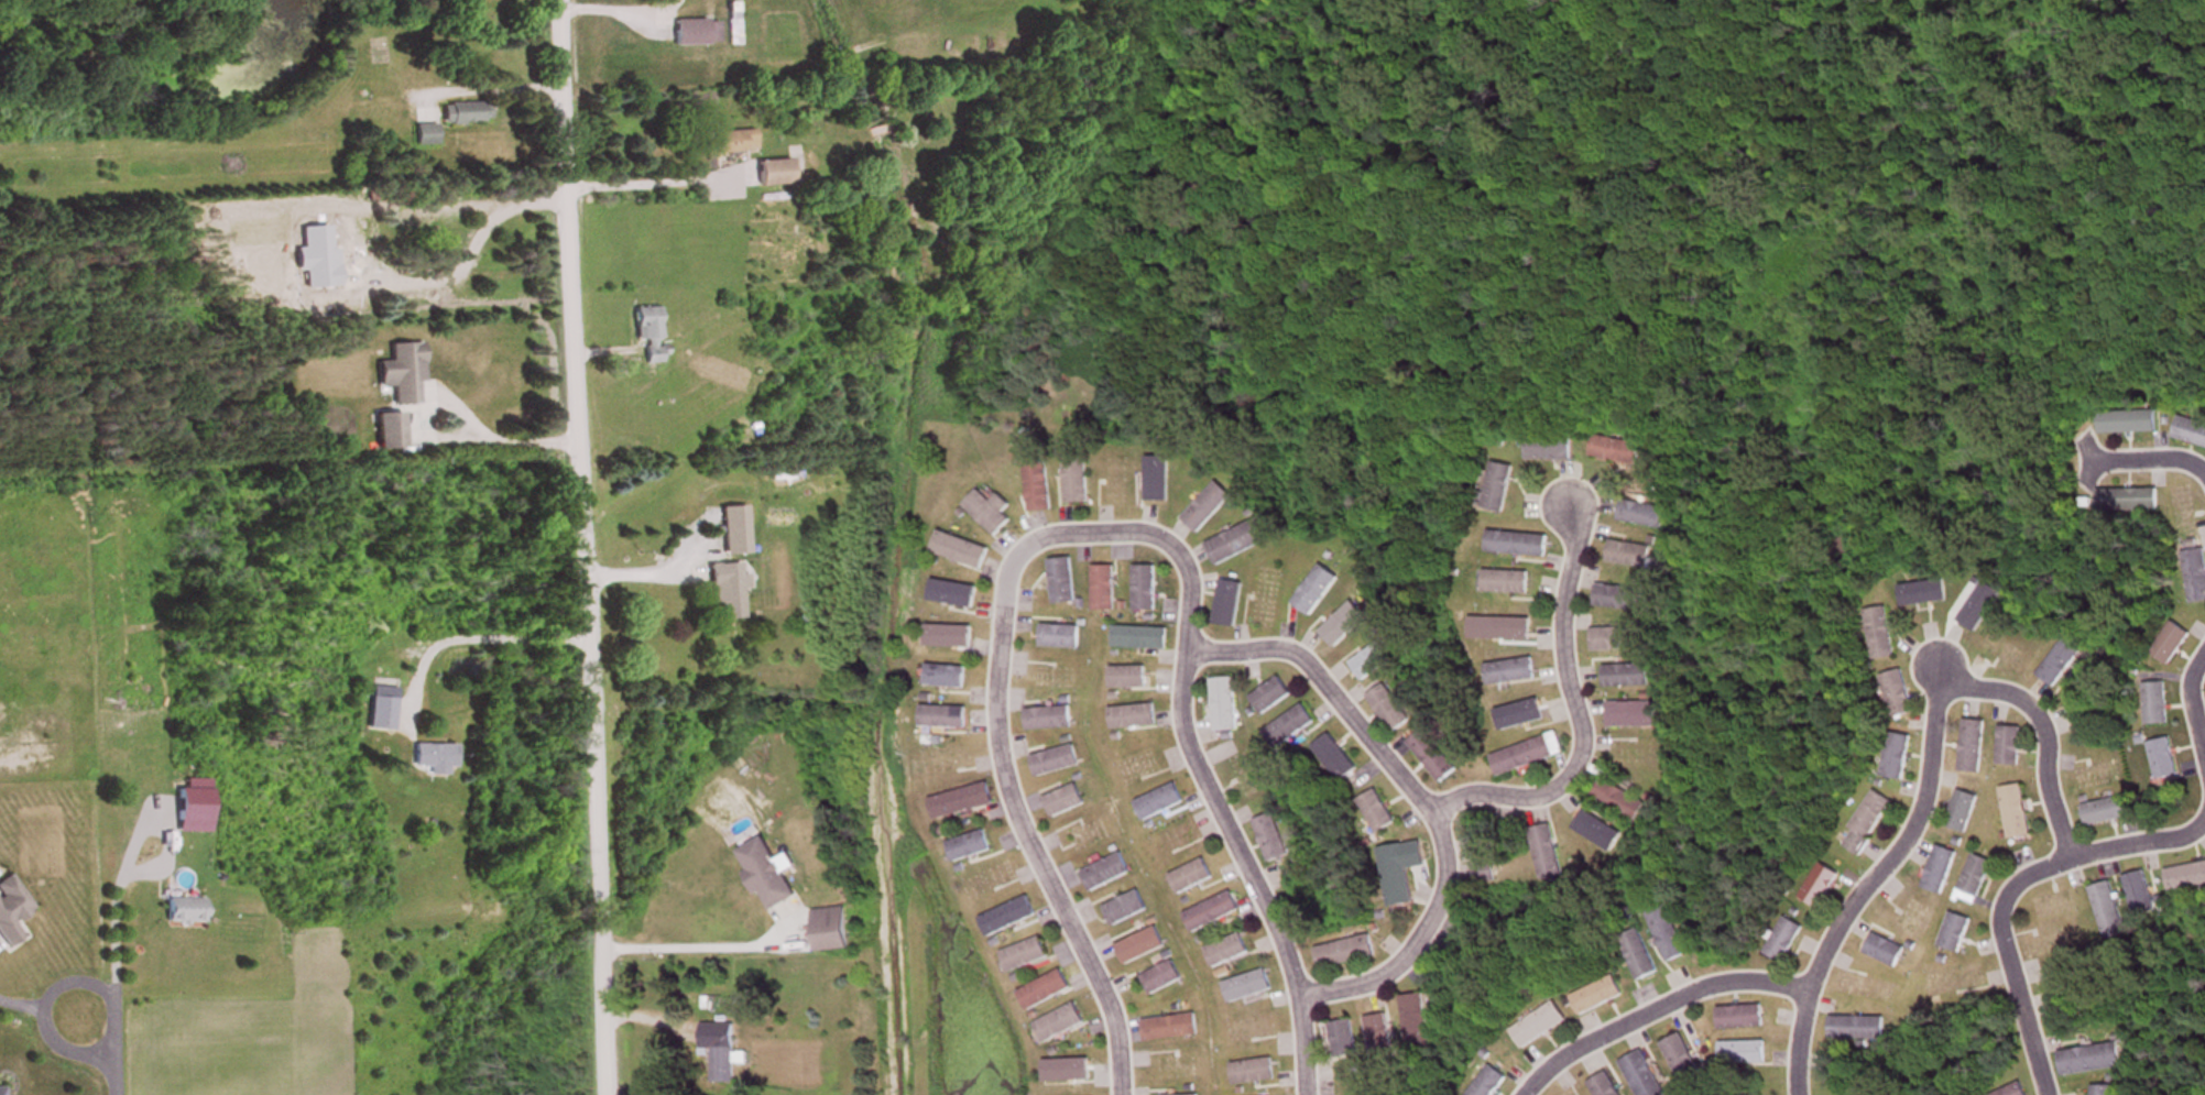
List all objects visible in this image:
building: (698, 32)
building: (466, 113)
building: (733, 142)
building: (774, 174)
building: (650, 335)
building: (403, 375)
building: (2129, 423)
building: (391, 432)
building: (2191, 432)
road: (494, 434)
building: (1549, 450)
building: (1616, 451)
road: (2084, 459)
road: (2149, 459)
building: (1077, 483)
building: (1039, 489)
building: (1498, 489)
building: (2129, 502)
building: (1208, 508)
building: (990, 513)
building: (1642, 516)
road: (1094, 532)
building: (1240, 544)
building: (1518, 546)
road: (577, 547)
building: (962, 551)
building: (1630, 556)
building: (2196, 576)
building: (1063, 582)
building: (1507, 583)
building: (1146, 589)
building: (1105, 590)
building: (729, 591)
building: (1317, 591)
building: (1620, 599)
road: (480, 632)
building: (1880, 635)
building: (1061, 637)
building: (1142, 638)
building: (1618, 639)
building: (2171, 645)
building: (1372, 663)
building: (2059, 665)
building: (1511, 672)
building: (948, 677)
building: (1627, 677)
building: (1129, 678)
building: (1898, 694)
building: (1273, 697)
road: (1569, 700)
building: (2157, 704)
building: (1225, 705)
building: (383, 708)
building: (1390, 709)
road: (2187, 711)
building: (1634, 715)
building: (945, 718)
building: (1134, 718)
building: (1049, 719)
building: (1291, 729)
road: (1928, 731)
building: (1973, 747)
building: (2009, 747)
building: (1528, 756)
building: (1434, 757)
building: (1897, 757)
building: (436, 759)
building: (1336, 759)
building: (2164, 760)
building: (1056, 763)
road: (1411, 796)
building: (1620, 801)
building: (963, 802)
building: (1065, 802)
building: (1160, 803)
building: (194, 811)
building: (2107, 812)
building: (1377, 813)
building: (1963, 813)
building: (2017, 813)
building: (1867, 824)
building: (1273, 839)
road: (2141, 841)
building: (970, 848)
building: (1548, 853)
building: (1940, 872)
building: (1485, 873)
building: (1105, 874)
building: (767, 875)
building: (1397, 877)
building: (1192, 878)
building: (2186, 878)
building: (1975, 880)
building: (2140, 895)
building: (185, 908)
building: (1126, 910)
building: (12, 911)
building: (1213, 913)
building: (2109, 913)
building: (1009, 918)
building: (831, 930)
building: (1668, 934)
building: (1956, 934)
road: (112, 939)
road: (698, 940)
building: (1784, 941)
building: (1142, 948)
building: (1229, 951)
building: (1886, 952)
building: (1346, 953)
building: (1026, 956)
building: (1639, 956)
road: (2004, 960)
building: (1162, 979)
building: (1248, 987)
building: (1046, 992)
building: (1597, 997)
road: (1648, 1008)
building: (1742, 1018)
building: (1417, 1021)
building: (1061, 1025)
building: (1540, 1027)
building: (1171, 1029)
building: (1857, 1029)
building: (1380, 1038)
building: (1344, 1040)
road: (1791, 1042)
road: (109, 1048)
building: (722, 1052)
building: (1743, 1054)
building: (2091, 1061)
building: (1683, 1062)
building: (1254, 1073)
building: (1642, 1075)
building: (1489, 1083)
building: (1605, 1086)
building: (2, 1091)
building: (2013, 1091)
building: (2104, 1091)

